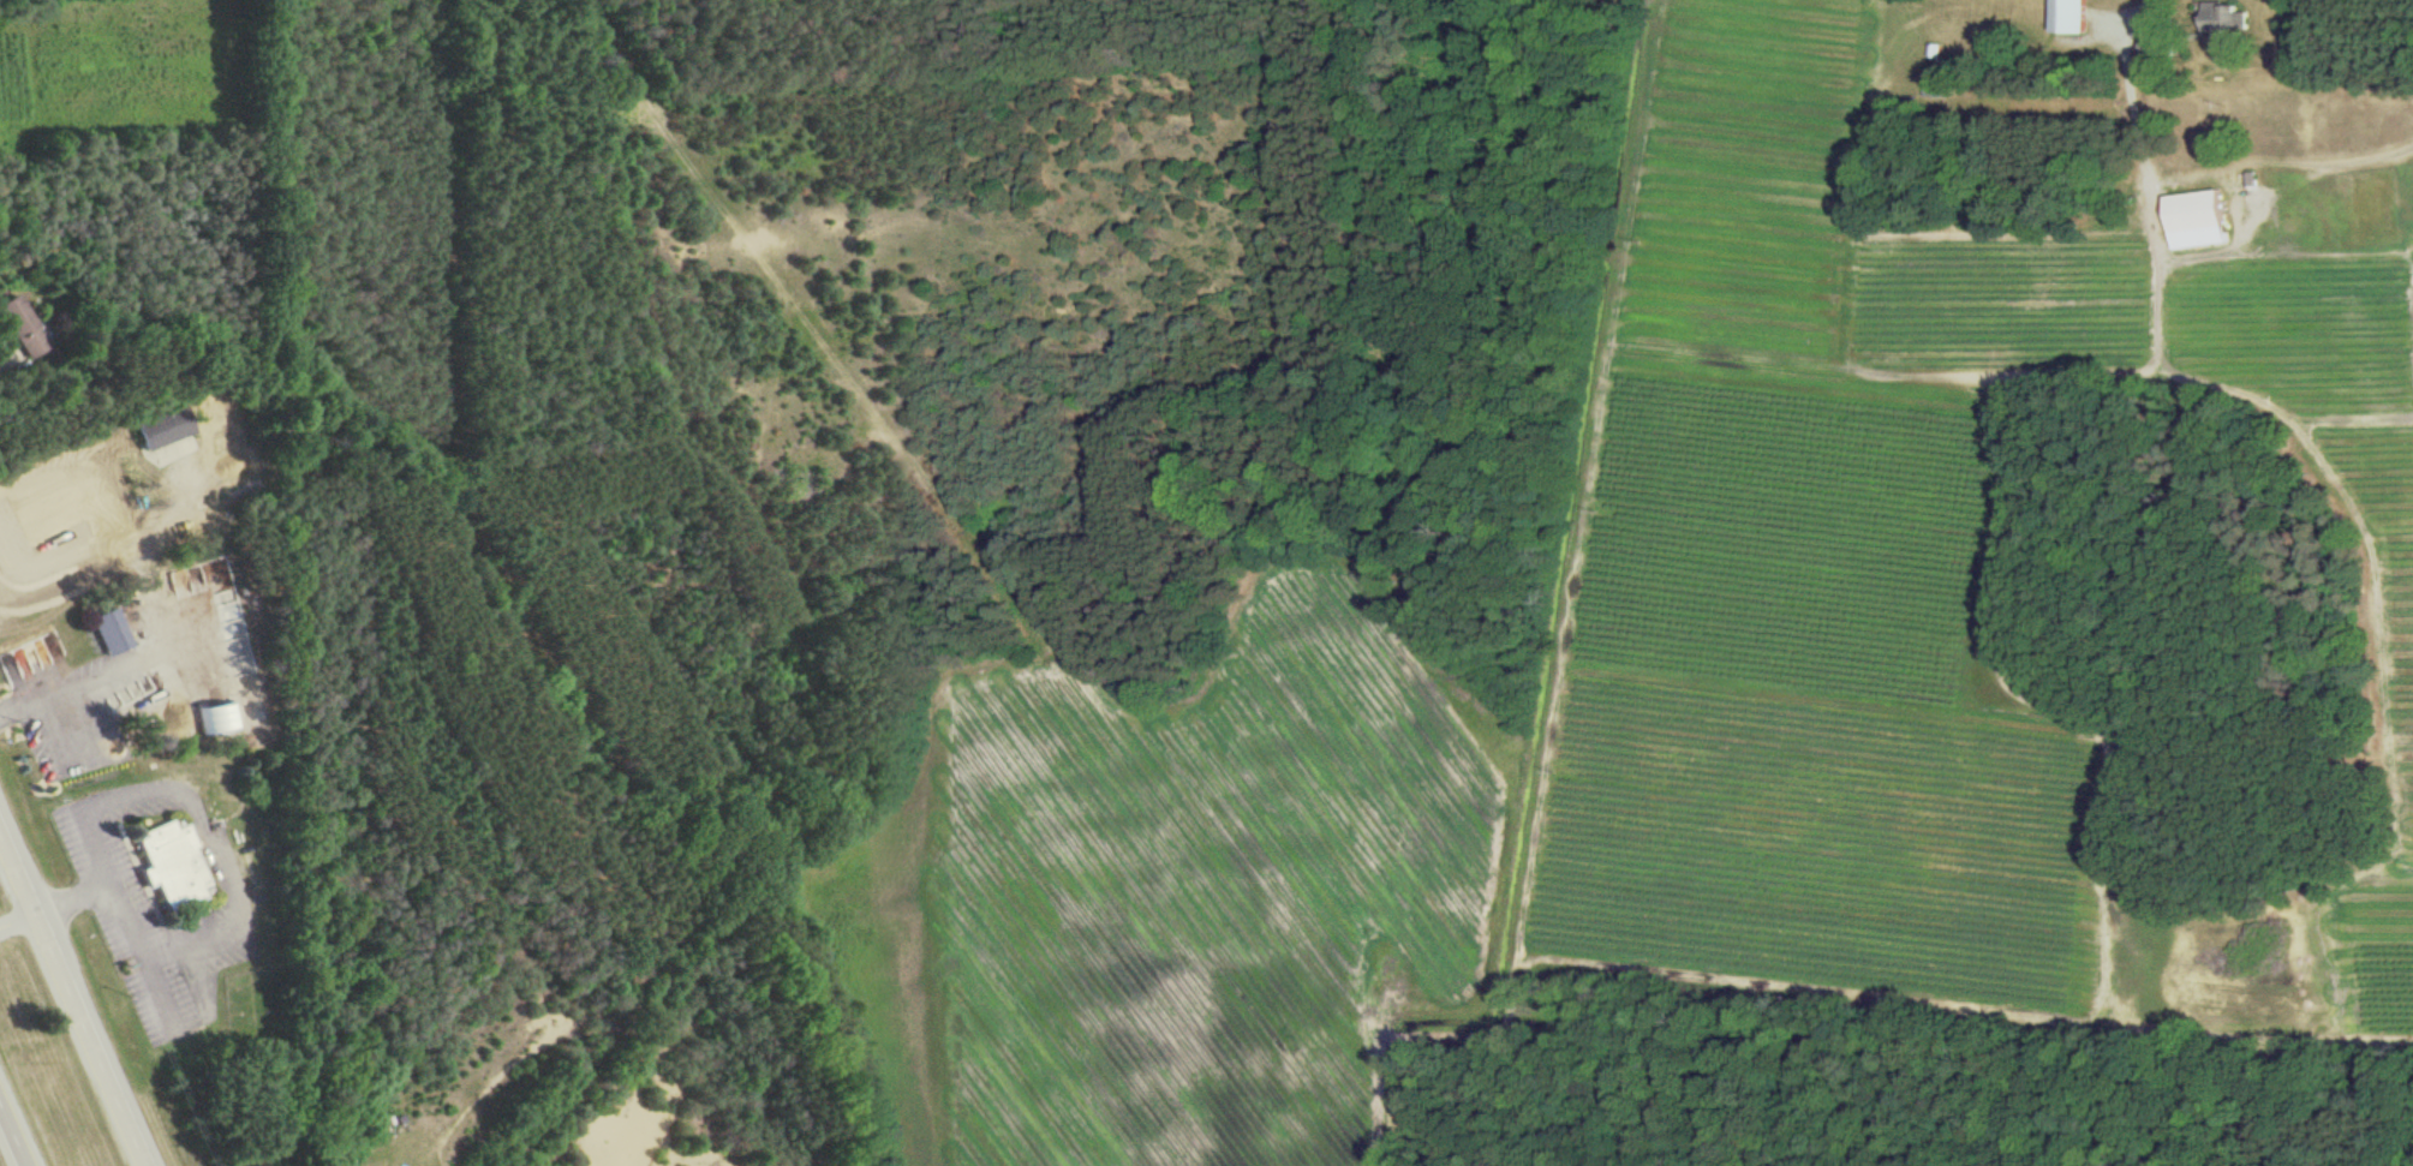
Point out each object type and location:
building: (2063, 16)
building: (2221, 20)
building: (1929, 89)
road: (2130, 94)
road: (2039, 102)
building: (2191, 220)
building: (22, 325)
road: (1, 360)
building: (161, 429)
building: (112, 632)
building: (37, 654)
road: (137, 663)
building: (219, 718)
road: (90, 720)
road: (56, 734)
road: (219, 851)
building: (171, 865)
road: (73, 899)
road: (18, 921)
road: (73, 999)
road: (14, 1132)

